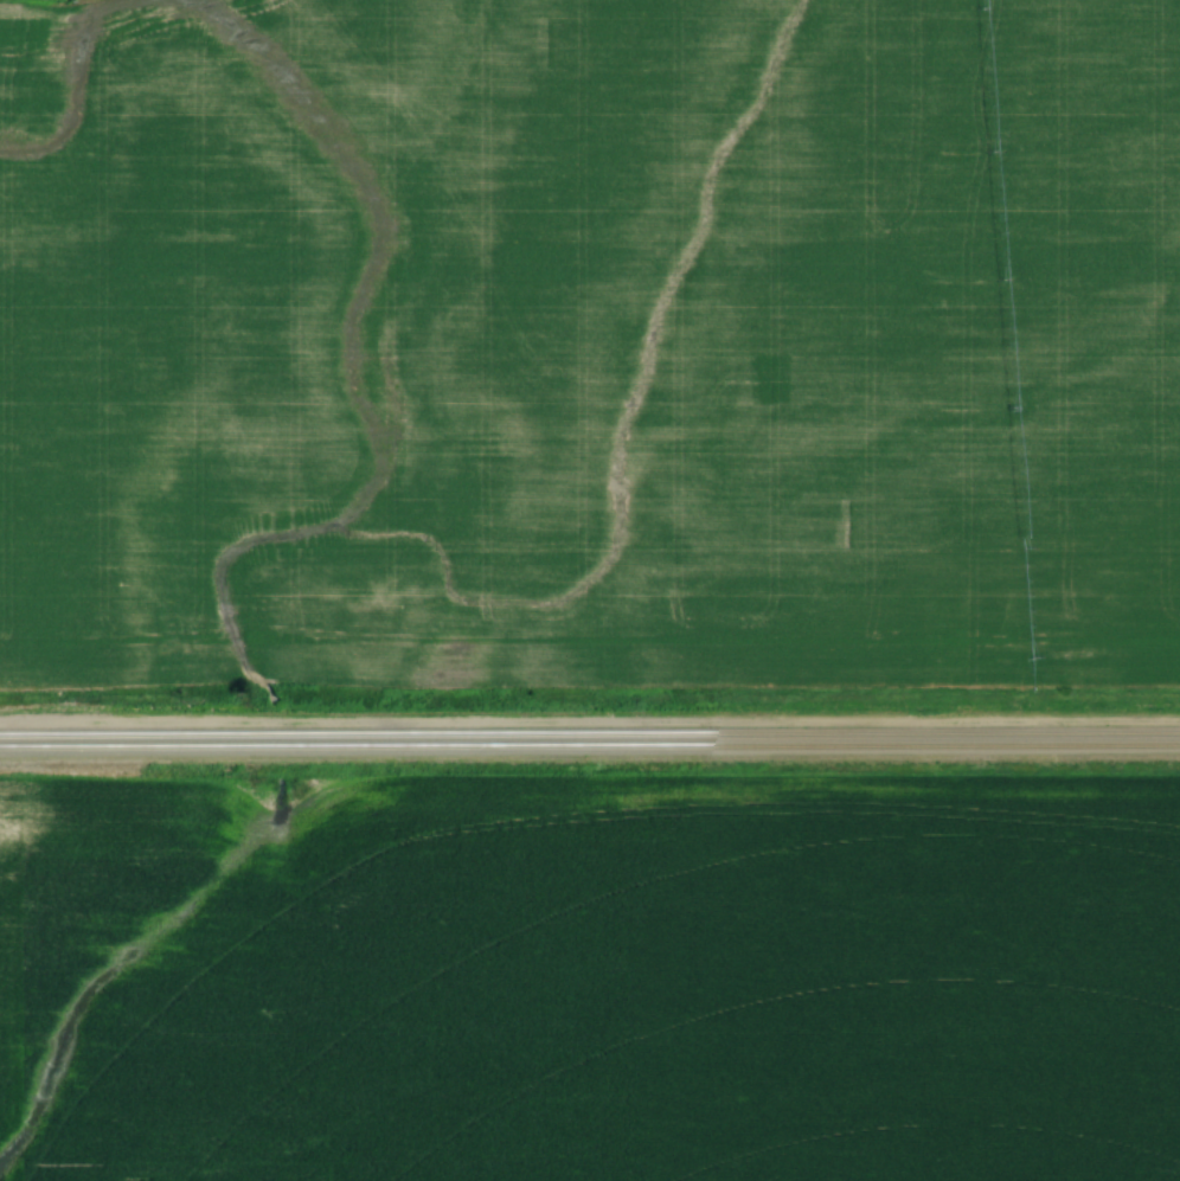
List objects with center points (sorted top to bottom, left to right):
railway: (589, 732)
railway: (590, 745)

